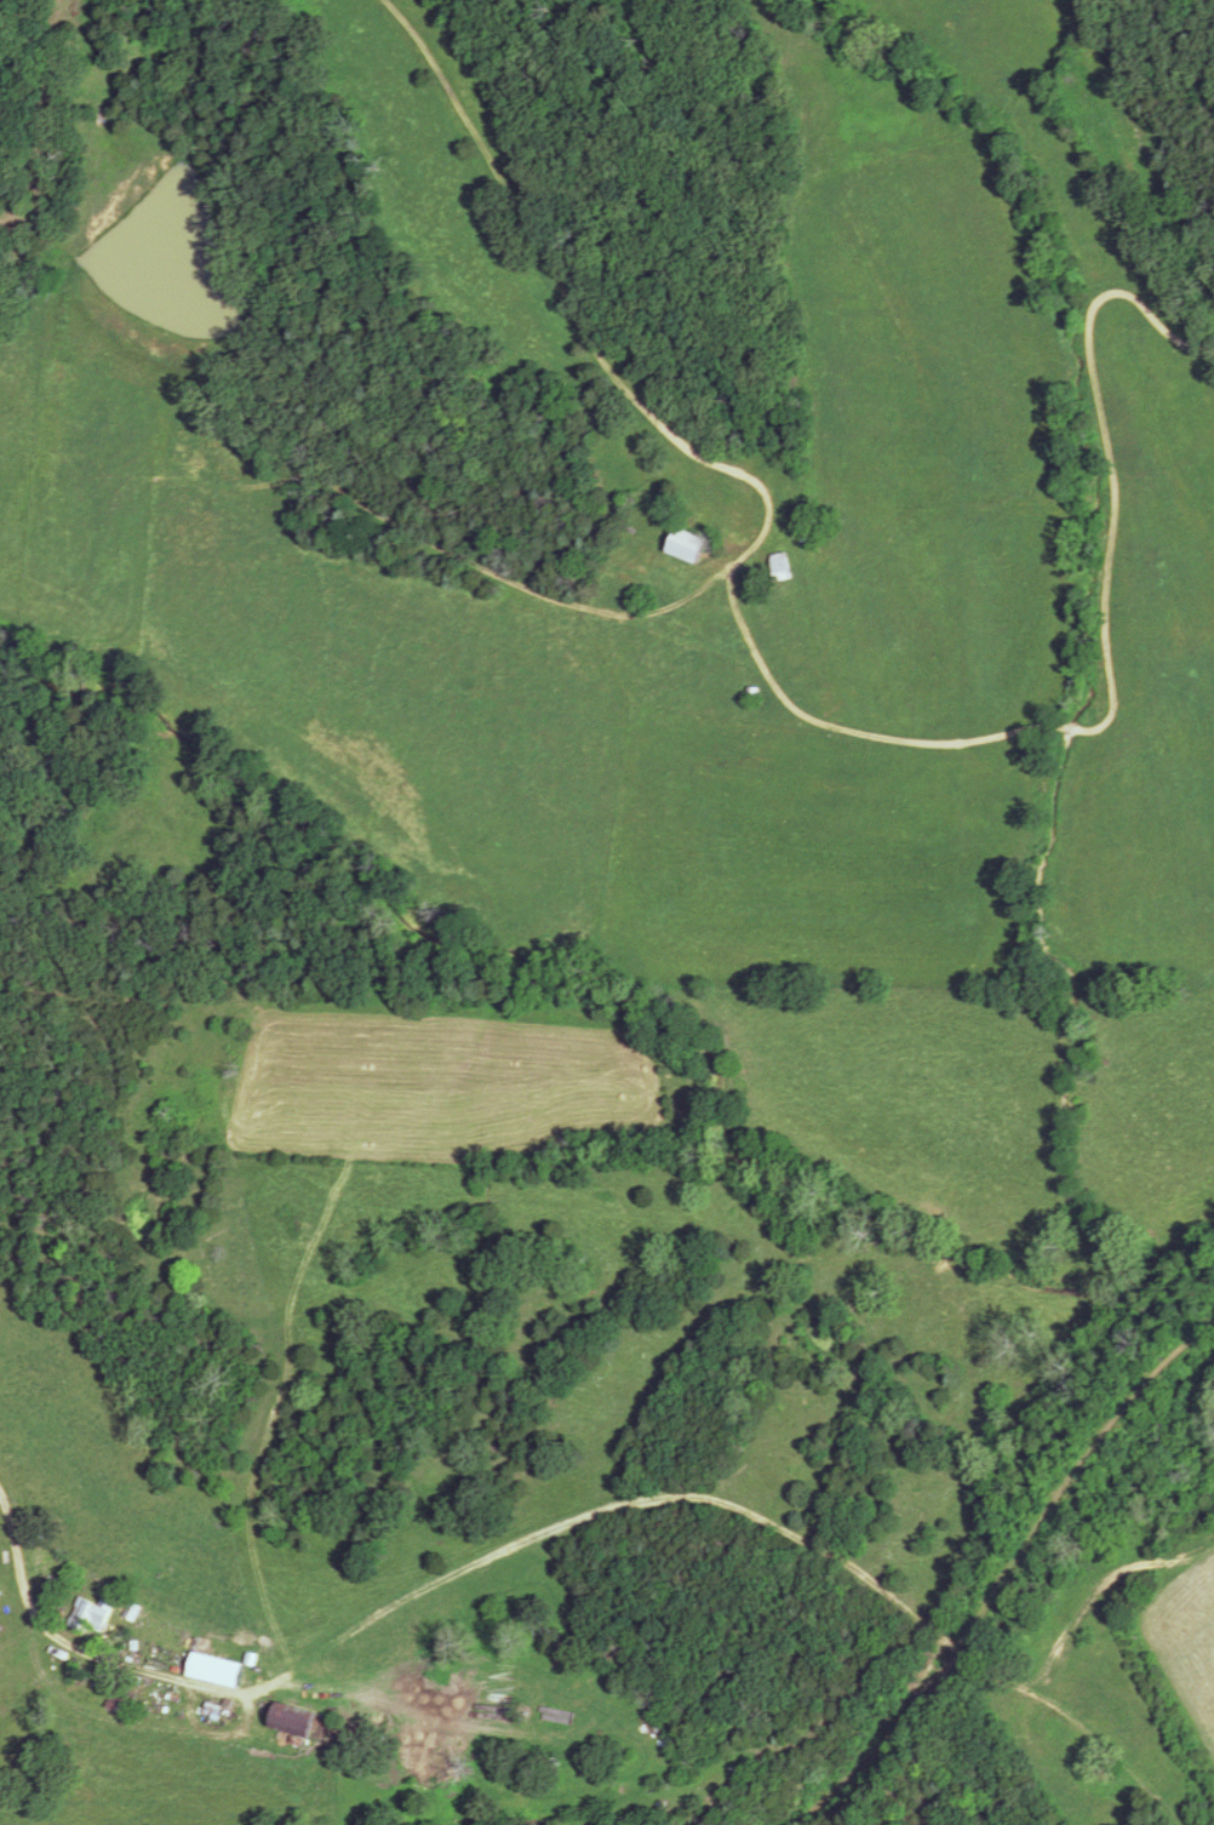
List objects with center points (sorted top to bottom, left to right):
building: (688, 545)
building: (783, 567)
building: (90, 1615)
road: (74, 1641)
building: (120, 1700)
building: (560, 1715)
building: (296, 1720)

